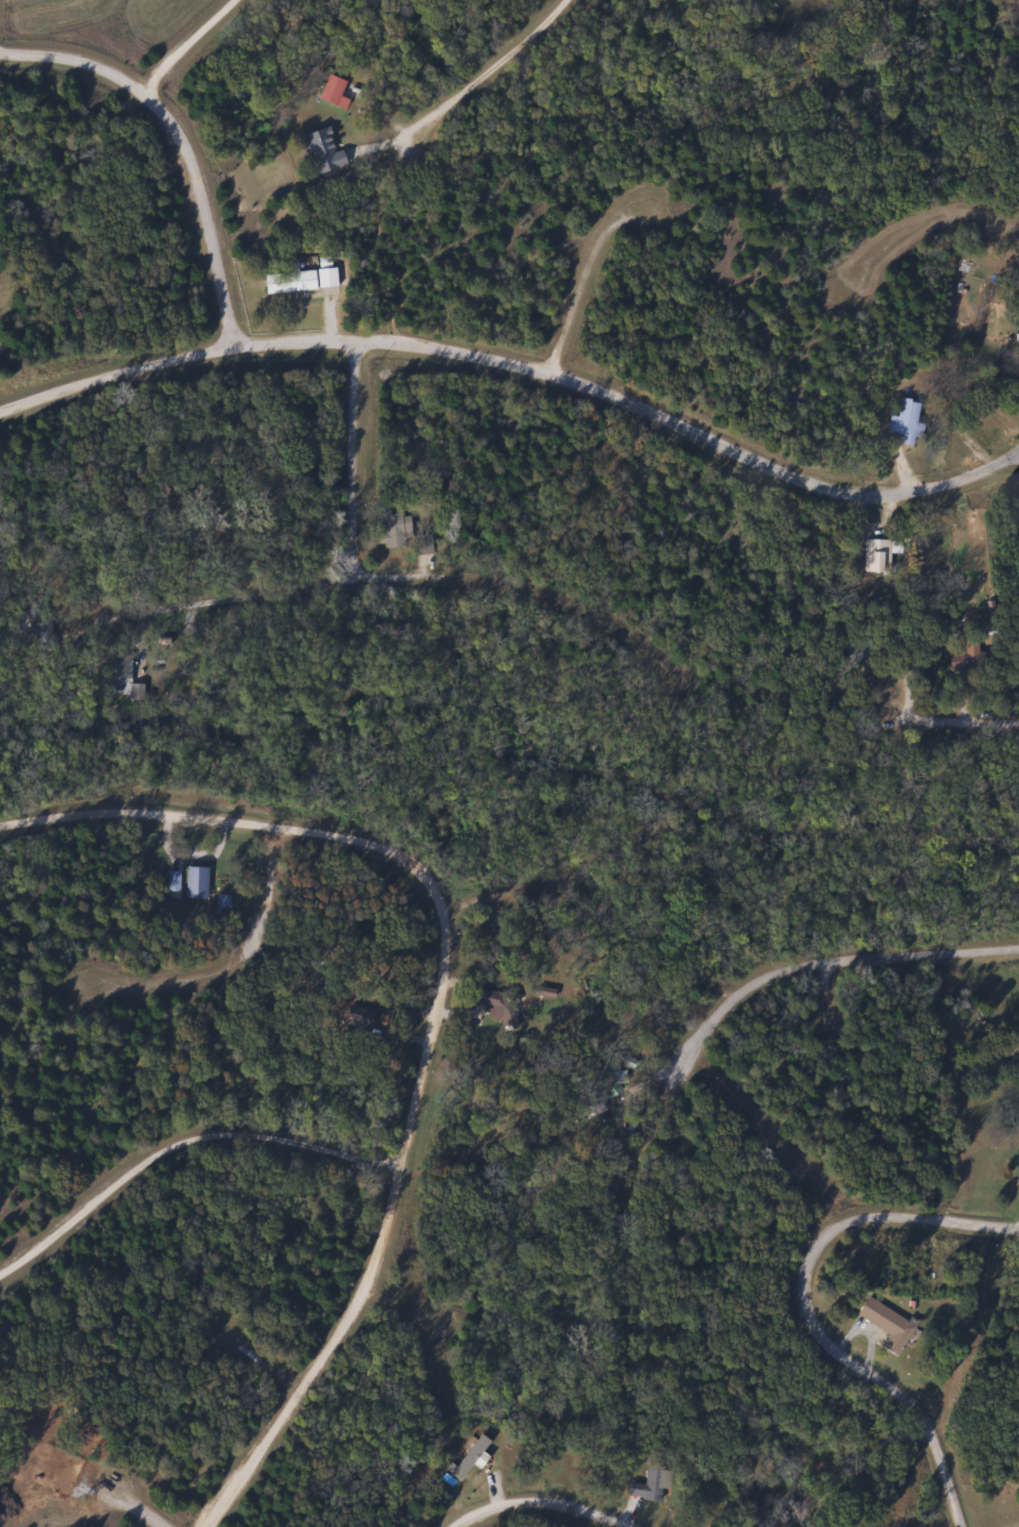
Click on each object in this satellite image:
road: (185, 40)
road: (75, 57)
road: (477, 72)
building: (329, 89)
building: (321, 149)
road: (204, 211)
building: (299, 280)
road: (578, 284)
road: (518, 366)
building: (904, 420)
road: (353, 456)
building: (1015, 510)
building: (390, 532)
building: (876, 555)
road: (424, 572)
building: (37, 625)
building: (965, 656)
building: (120, 675)
road: (966, 715)
building: (170, 881)
building: (193, 882)
road: (512, 892)
road: (239, 958)
road: (833, 967)
building: (478, 996)
road: (436, 1006)
road: (802, 1008)
road: (674, 1074)
road: (180, 1144)
building: (1017, 1184)
road: (813, 1308)
building: (886, 1325)
road: (402, 1331)
road: (257, 1365)
building: (474, 1460)
building: (646, 1485)
road: (543, 1498)
road: (130, 1511)

